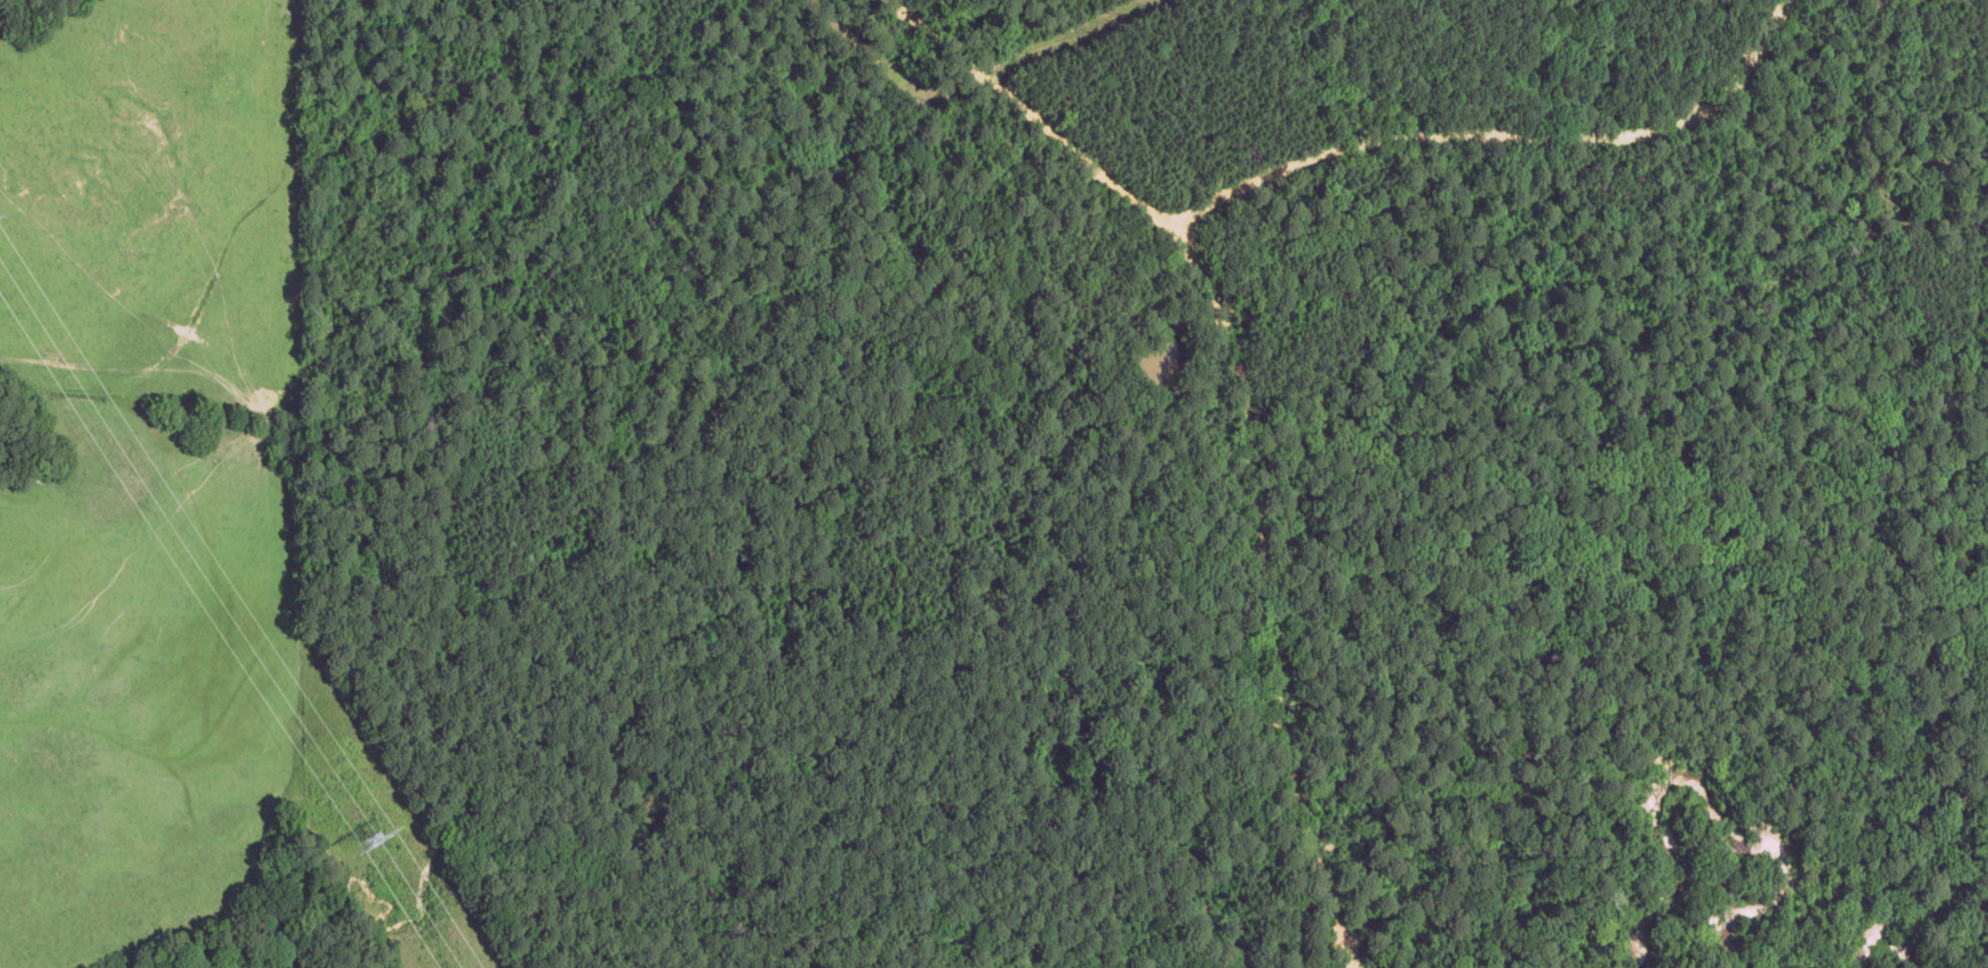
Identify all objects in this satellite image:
road: (1383, 187)
road: (1287, 609)
power tower: (365, 841)

